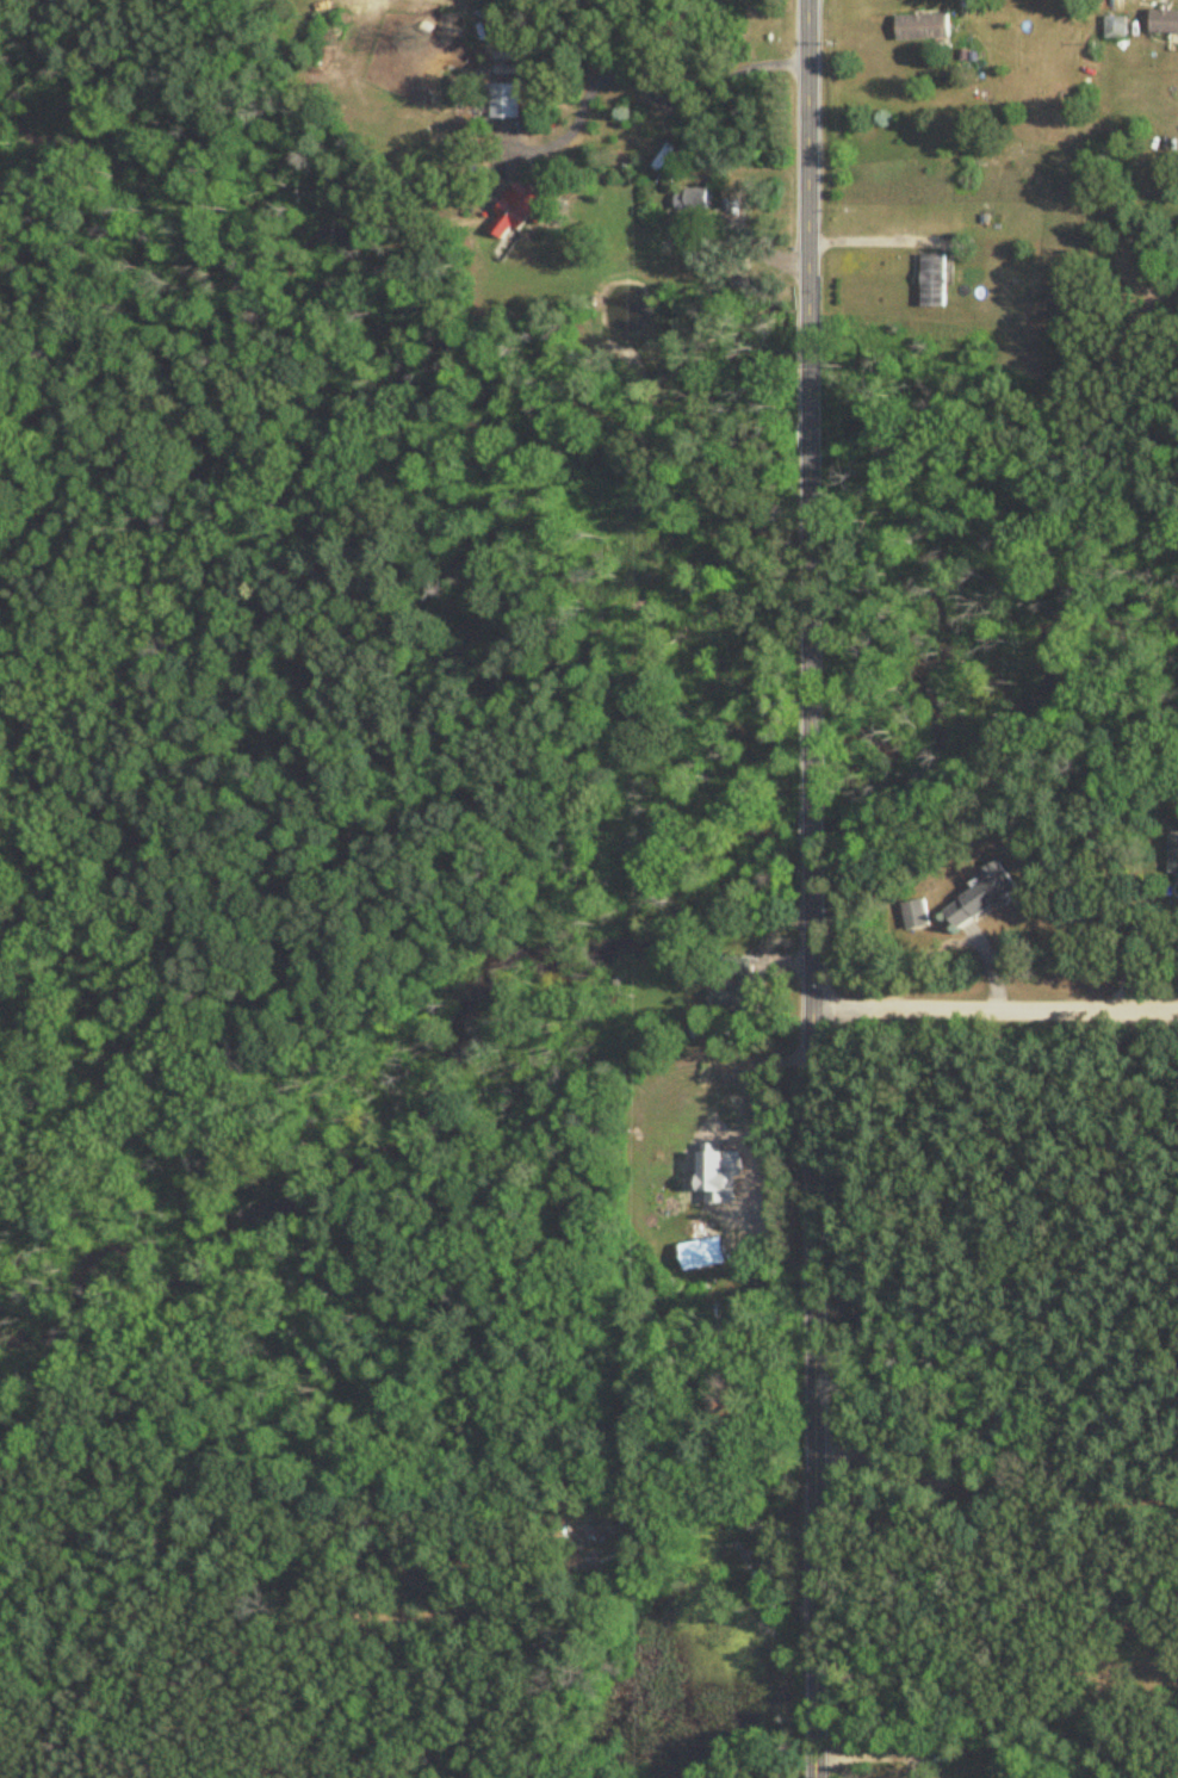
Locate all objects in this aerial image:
building: (1164, 24)
building: (922, 27)
building: (1115, 29)
road: (627, 80)
building: (506, 103)
building: (694, 200)
building: (515, 210)
road: (870, 240)
building: (934, 279)
building: (1174, 855)
road: (810, 888)
building: (984, 897)
building: (917, 916)
road: (1136, 949)
building: (739, 996)
road: (994, 1002)
building: (723, 1210)
building: (705, 1246)
road: (996, 1495)
road: (878, 1753)

